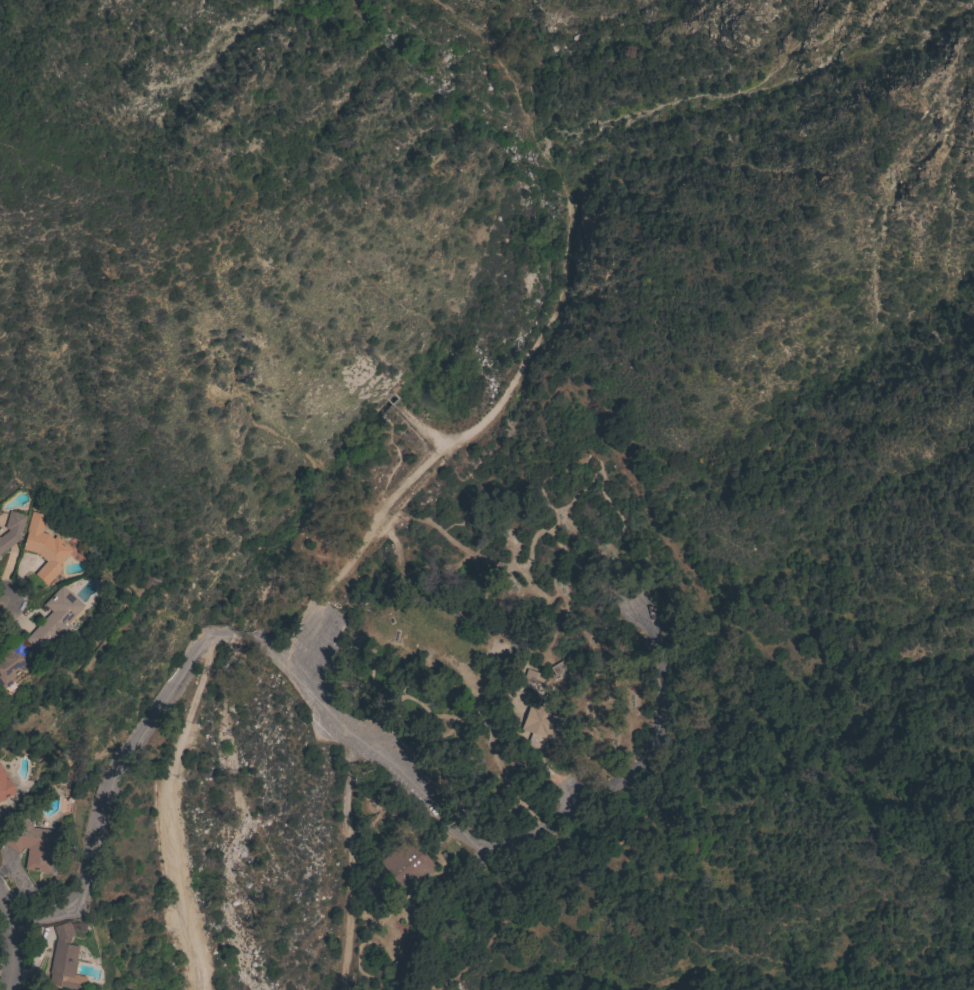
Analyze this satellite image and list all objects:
building: (11, 529)
building: (43, 547)
road: (508, 566)
road: (1, 606)
building: (54, 618)
road: (246, 638)
building: (13, 662)
building: (533, 677)
building: (544, 686)
parking lot: (322, 702)
building: (537, 720)
road: (337, 722)
building: (524, 738)
road: (108, 781)
building: (4, 787)
road: (606, 790)
road: (167, 810)
building: (32, 844)
road: (354, 862)
building: (406, 864)
road: (10, 947)
building: (64, 958)
building: (41, 989)

